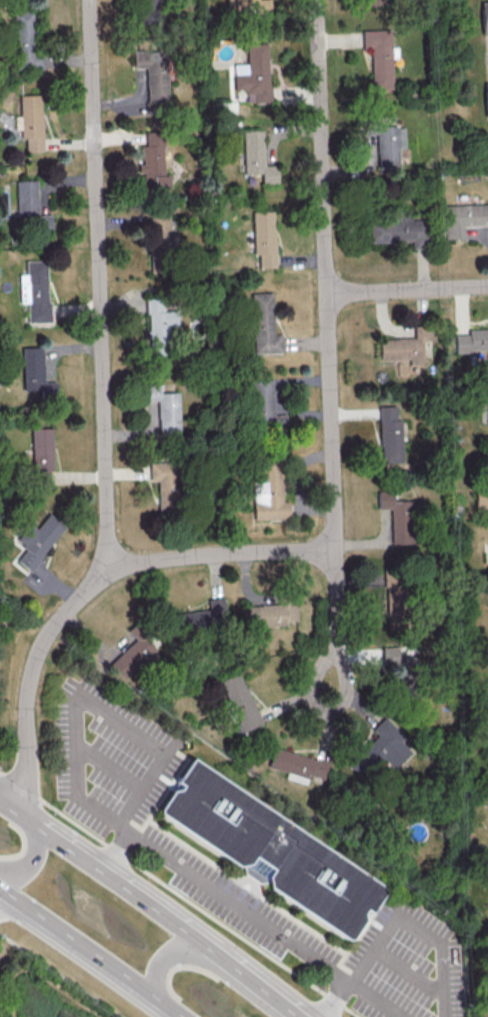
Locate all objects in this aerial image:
building: (374, 1)
building: (248, 5)
building: (148, 11)
building: (484, 16)
building: (26, 41)
building: (379, 57)
building: (254, 73)
building: (153, 76)
building: (486, 98)
building: (30, 121)
building: (387, 143)
building: (256, 156)
building: (153, 162)
building: (30, 206)
building: (463, 218)
building: (395, 229)
building: (154, 237)
building: (263, 237)
road: (326, 275)
road: (97, 287)
building: (34, 290)
road: (407, 290)
building: (263, 324)
building: (158, 326)
building: (472, 340)
building: (405, 346)
building: (34, 371)
building: (487, 401)
building: (264, 404)
building: (164, 407)
building: (390, 434)
building: (41, 449)
building: (167, 487)
building: (269, 493)
building: (481, 495)
building: (397, 517)
building: (37, 540)
road: (219, 555)
building: (393, 600)
building: (270, 614)
building: (202, 618)
road: (337, 622)
building: (134, 654)
building: (398, 655)
road: (33, 678)
building: (484, 700)
road: (89, 701)
building: (239, 702)
building: (380, 749)
building: (296, 765)
road: (7, 802)
building: (269, 847)
road: (31, 858)
road: (113, 878)
road: (220, 890)
road: (2, 894)
road: (179, 895)
road: (403, 917)
road: (91, 951)
road: (170, 957)
road: (362, 966)
road: (60, 974)
road: (254, 984)
road: (430, 985)
road: (338, 1000)
road: (374, 1000)
road: (444, 1006)

